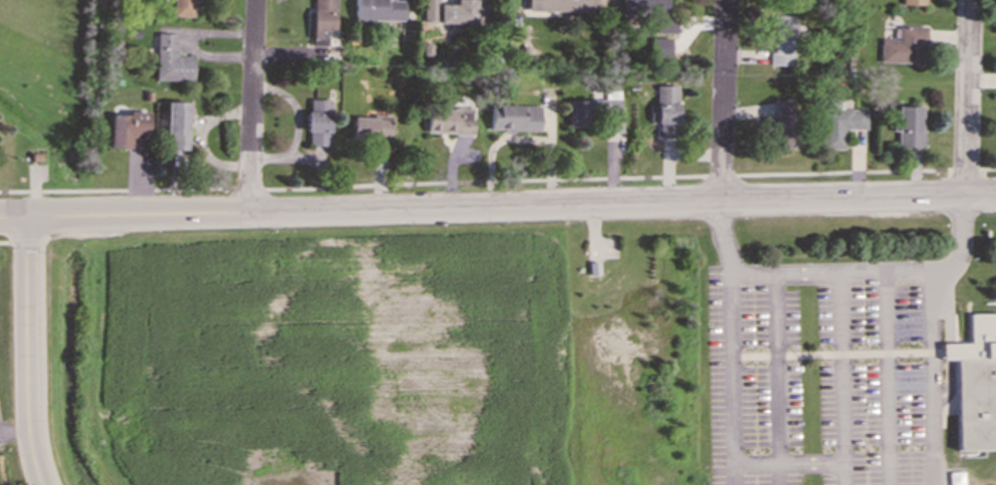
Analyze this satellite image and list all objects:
building: (914, 2)
building: (561, 5)
building: (183, 7)
building: (378, 9)
building: (454, 11)
building: (652, 14)
building: (322, 20)
building: (783, 40)
road: (190, 43)
building: (904, 45)
building: (662, 47)
building: (171, 59)
road: (971, 98)
road: (722, 101)
park: (44, 103)
road: (253, 105)
building: (579, 112)
building: (664, 112)
building: (612, 115)
building: (515, 117)
building: (784, 118)
road: (550, 119)
building: (317, 121)
building: (449, 121)
building: (839, 123)
road: (297, 124)
building: (177, 125)
building: (910, 125)
building: (371, 127)
building: (127, 128)
road: (524, 138)
road: (304, 156)
road: (498, 206)
road: (24, 240)
road: (5, 241)
road: (845, 272)
road: (26, 350)
road: (41, 350)
crop: (331, 354)
road: (842, 368)
road: (777, 369)
road: (734, 375)
road: (888, 378)
road: (932, 378)
building: (976, 382)
road: (13, 427)
road: (812, 464)
building: (957, 478)

